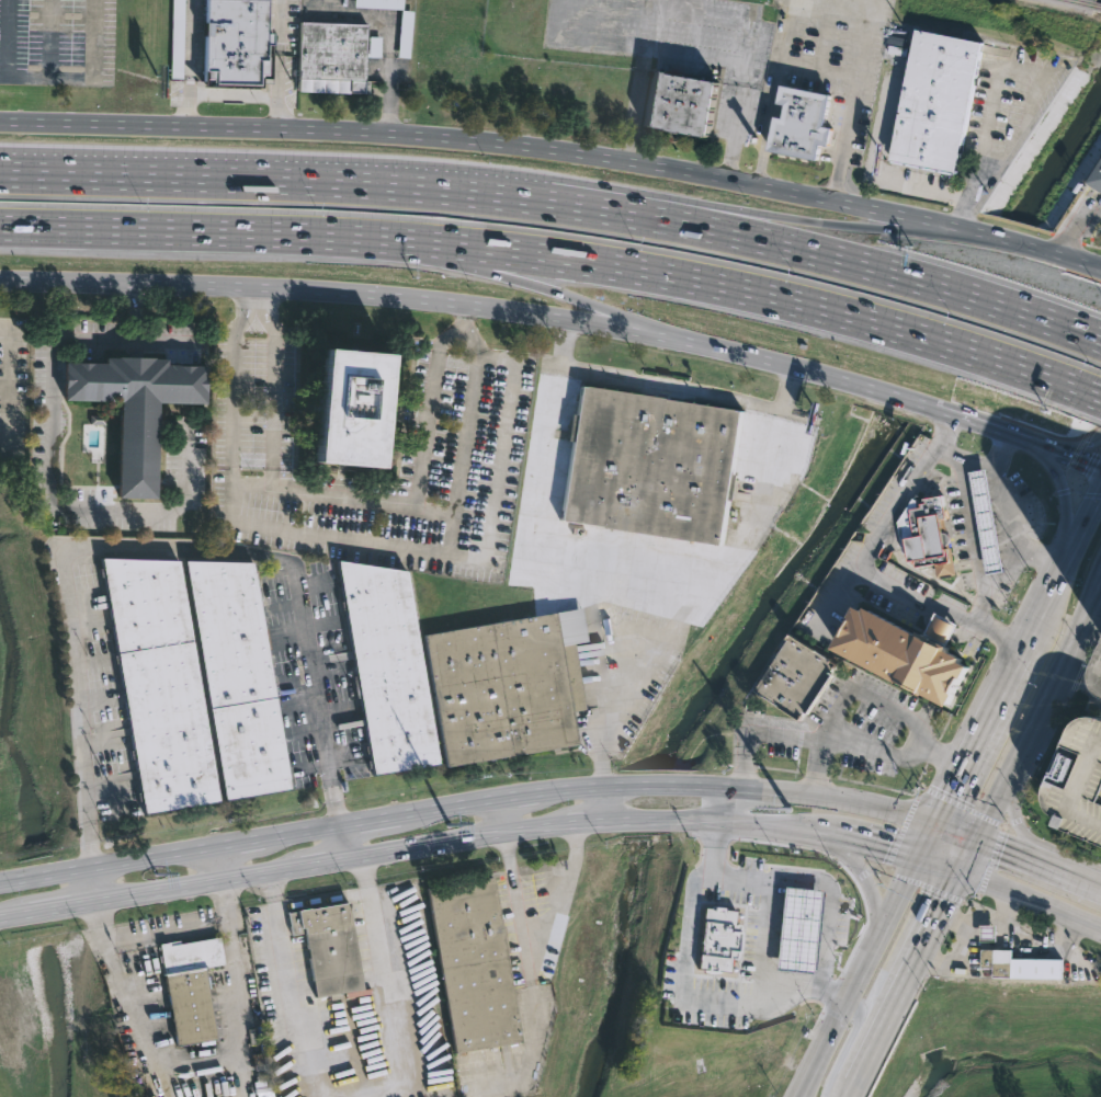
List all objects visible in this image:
railway: (1085, 2)
building: (379, 4)
railway: (1098, 4)
road: (682, 13)
road: (394, 32)
road: (825, 34)
building: (406, 35)
road: (50, 38)
building: (179, 38)
building: (237, 39)
road: (635, 43)
building: (333, 58)
road: (643, 62)
road: (190, 64)
road: (999, 64)
road: (280, 65)
road: (819, 69)
road: (52, 78)
road: (774, 92)
road: (235, 96)
road: (852, 100)
building: (937, 100)
building: (683, 102)
road: (737, 122)
building: (802, 123)
road: (556, 152)
road: (870, 175)
building: (1096, 179)
road: (229, 180)
road: (696, 203)
road: (1072, 227)
road: (168, 232)
road: (1065, 238)
road: (1090, 245)
road: (783, 249)
road: (1092, 264)
road: (526, 281)
road: (713, 286)
road: (257, 297)
road: (464, 312)
road: (560, 316)
road: (450, 336)
road: (469, 338)
road: (166, 340)
road: (564, 342)
road: (1100, 342)
road: (9, 377)
road: (234, 384)
road: (271, 385)
road: (663, 385)
road: (1091, 393)
road: (731, 397)
building: (136, 407)
building: (354, 407)
road: (550, 421)
road: (1079, 445)
road: (1099, 448)
road: (48, 452)
road: (1003, 452)
road: (464, 453)
road: (251, 459)
traffic signals: (1086, 461)
building: (651, 465)
road: (1081, 480)
road: (251, 481)
road: (1086, 493)
road: (1064, 498)
road: (1003, 500)
road: (409, 506)
building: (985, 519)
gas station: (985, 519)
road: (454, 533)
building: (930, 537)
road: (972, 542)
road: (150, 549)
road: (450, 551)
road: (863, 564)
road: (1058, 569)
road: (1000, 575)
road: (632, 578)
road: (707, 579)
road: (1091, 610)
building: (906, 653)
building: (388, 667)
road: (1082, 671)
road: (1099, 672)
building: (802, 678)
building: (238, 679)
building: (508, 683)
building: (160, 684)
road: (837, 707)
road: (1037, 711)
road: (975, 735)
road: (872, 750)
road: (817, 766)
building: (1080, 779)
parking garage: (1080, 779)
traffic signals: (947, 792)
road: (499, 799)
road: (599, 801)
road: (731, 801)
power tower: (790, 810)
road: (502, 815)
power tower: (451, 824)
road: (954, 829)
road: (518, 830)
road: (1023, 835)
road: (924, 836)
road: (349, 842)
traffic signals: (889, 845)
traffic signals: (1001, 846)
road: (968, 853)
road: (1038, 860)
road: (220, 864)
road: (854, 865)
power tower: (157, 873)
road: (43, 875)
road: (733, 875)
road: (9, 880)
road: (93, 884)
building: (781, 884)
road: (322, 898)
road: (1030, 899)
road: (226, 900)
traffic signals: (943, 901)
road: (828, 906)
road: (49, 911)
road: (11, 916)
building: (734, 918)
road: (100, 921)
road: (538, 925)
building: (760, 927)
road: (166, 929)
building: (989, 933)
gas station: (989, 933)
road: (763, 936)
road: (920, 945)
building: (328, 949)
building: (995, 960)
building: (474, 965)
road: (854, 973)
building: (190, 986)
road: (683, 986)
road: (237, 1008)
road: (133, 1018)
road: (347, 1030)
road: (850, 1042)
road: (870, 1051)
road: (851, 1088)

